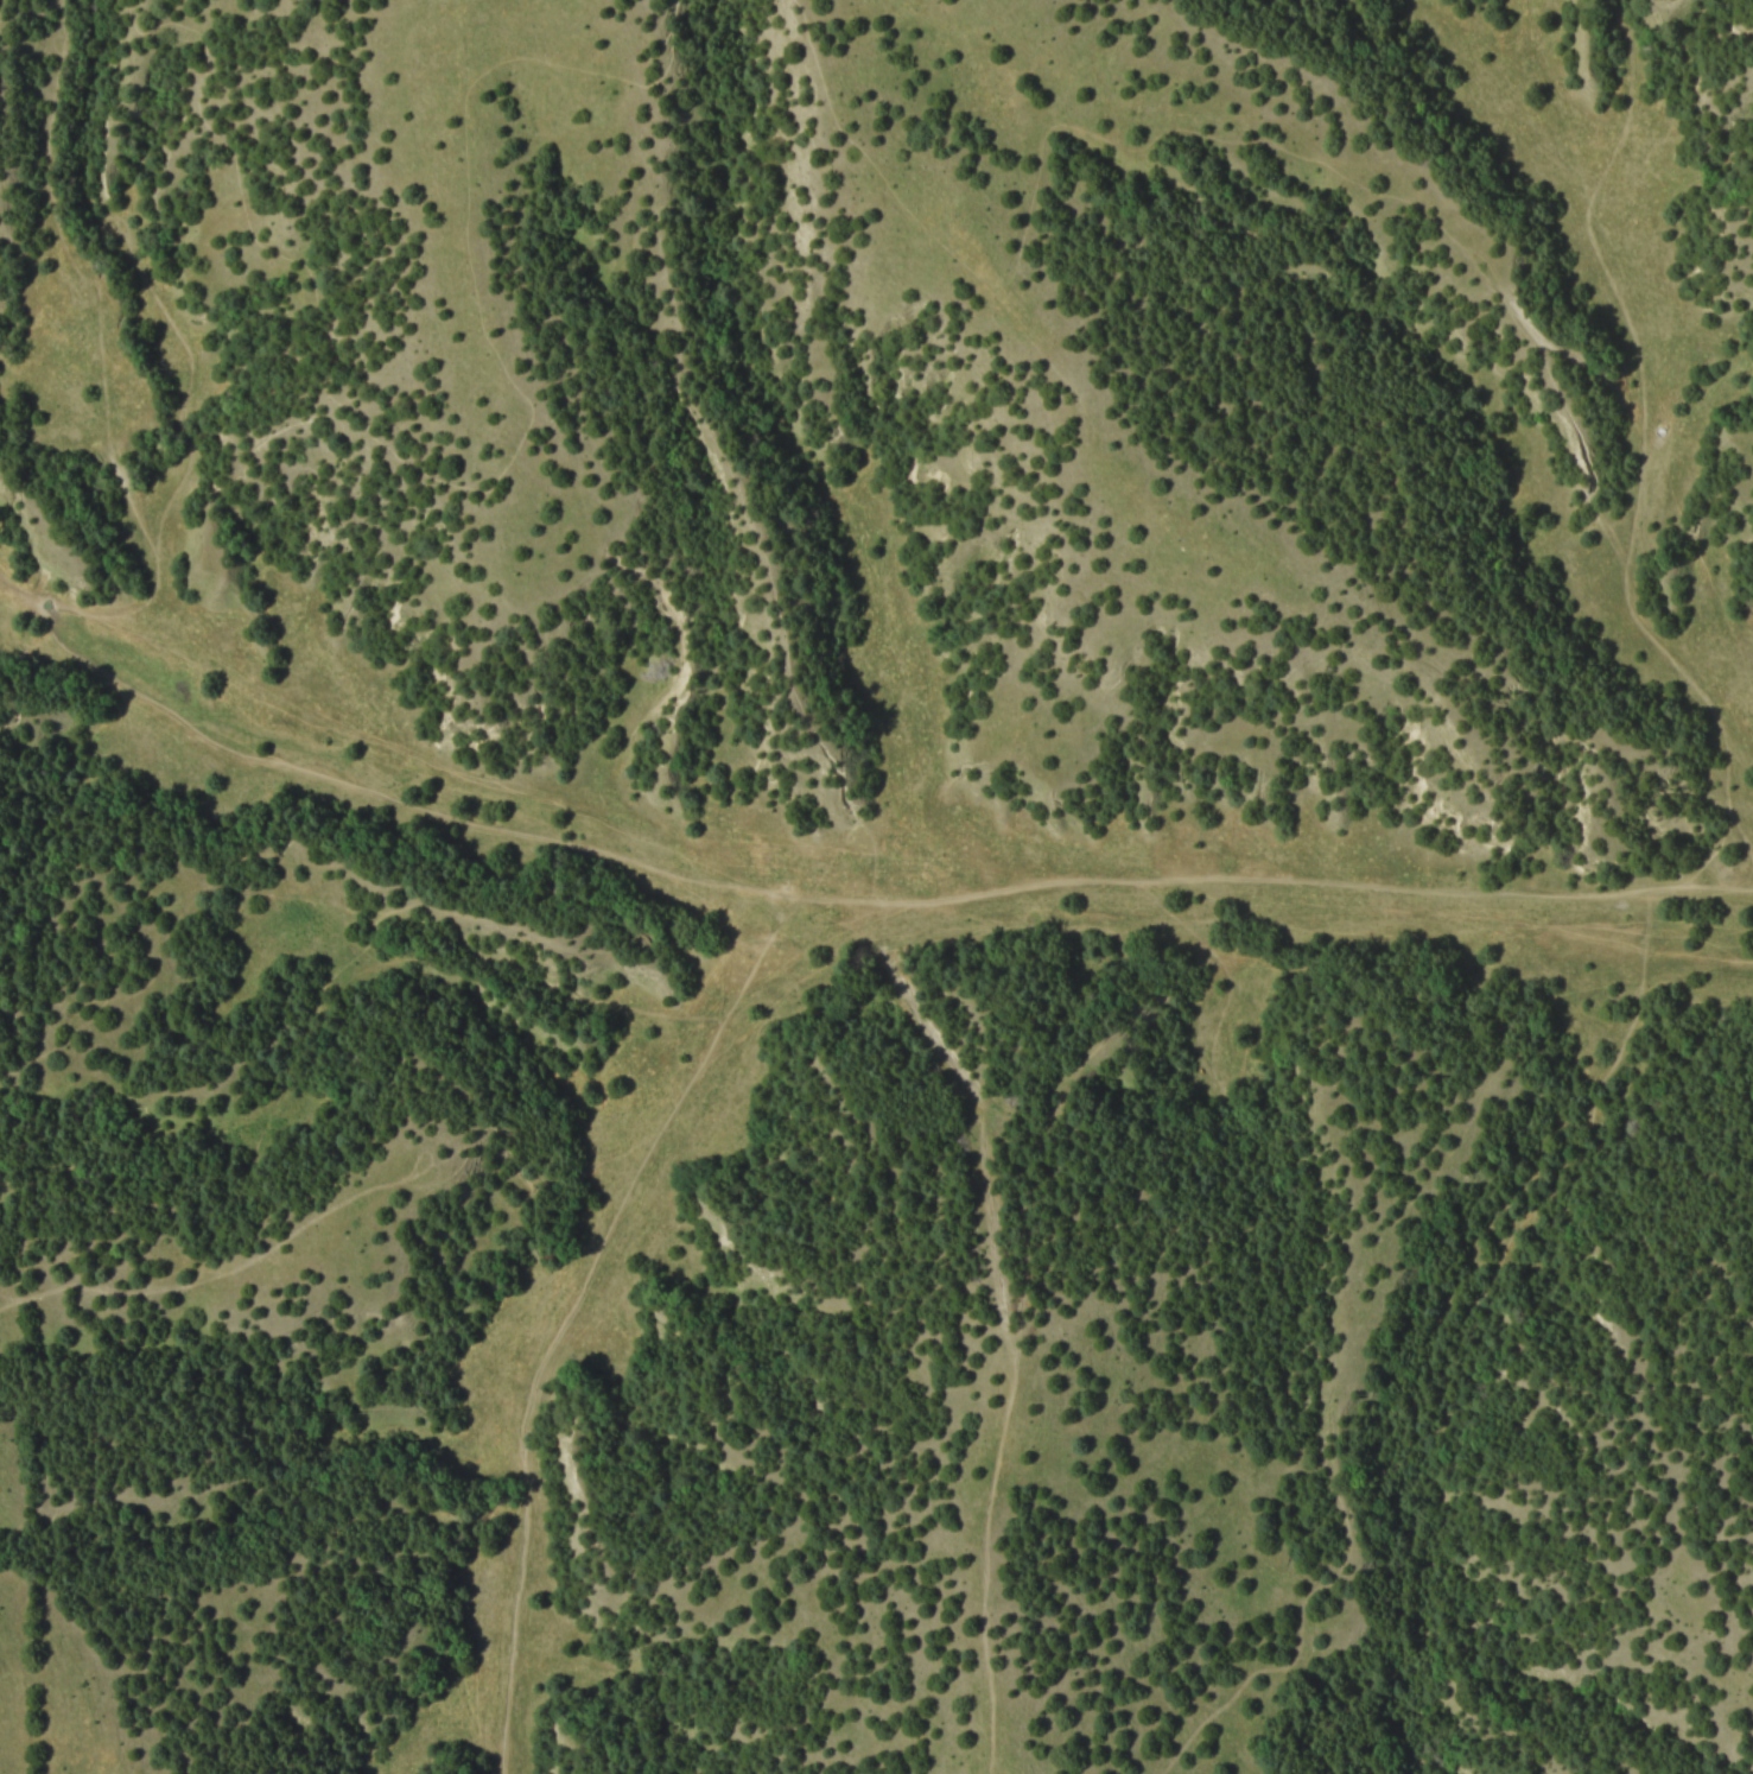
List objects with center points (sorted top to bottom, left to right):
road: (1633, 36)
road: (1135, 147)
road: (138, 264)
road: (1518, 316)
road: (1595, 376)
road: (496, 477)
road: (1637, 507)
road: (749, 518)
road: (11, 674)
road: (366, 792)
crop: (876, 887)
road: (801, 901)
road: (376, 915)
road: (1340, 918)
road: (597, 1057)
road: (18, 1100)
road: (242, 1259)
road: (1003, 1290)
road: (1461, 1314)

